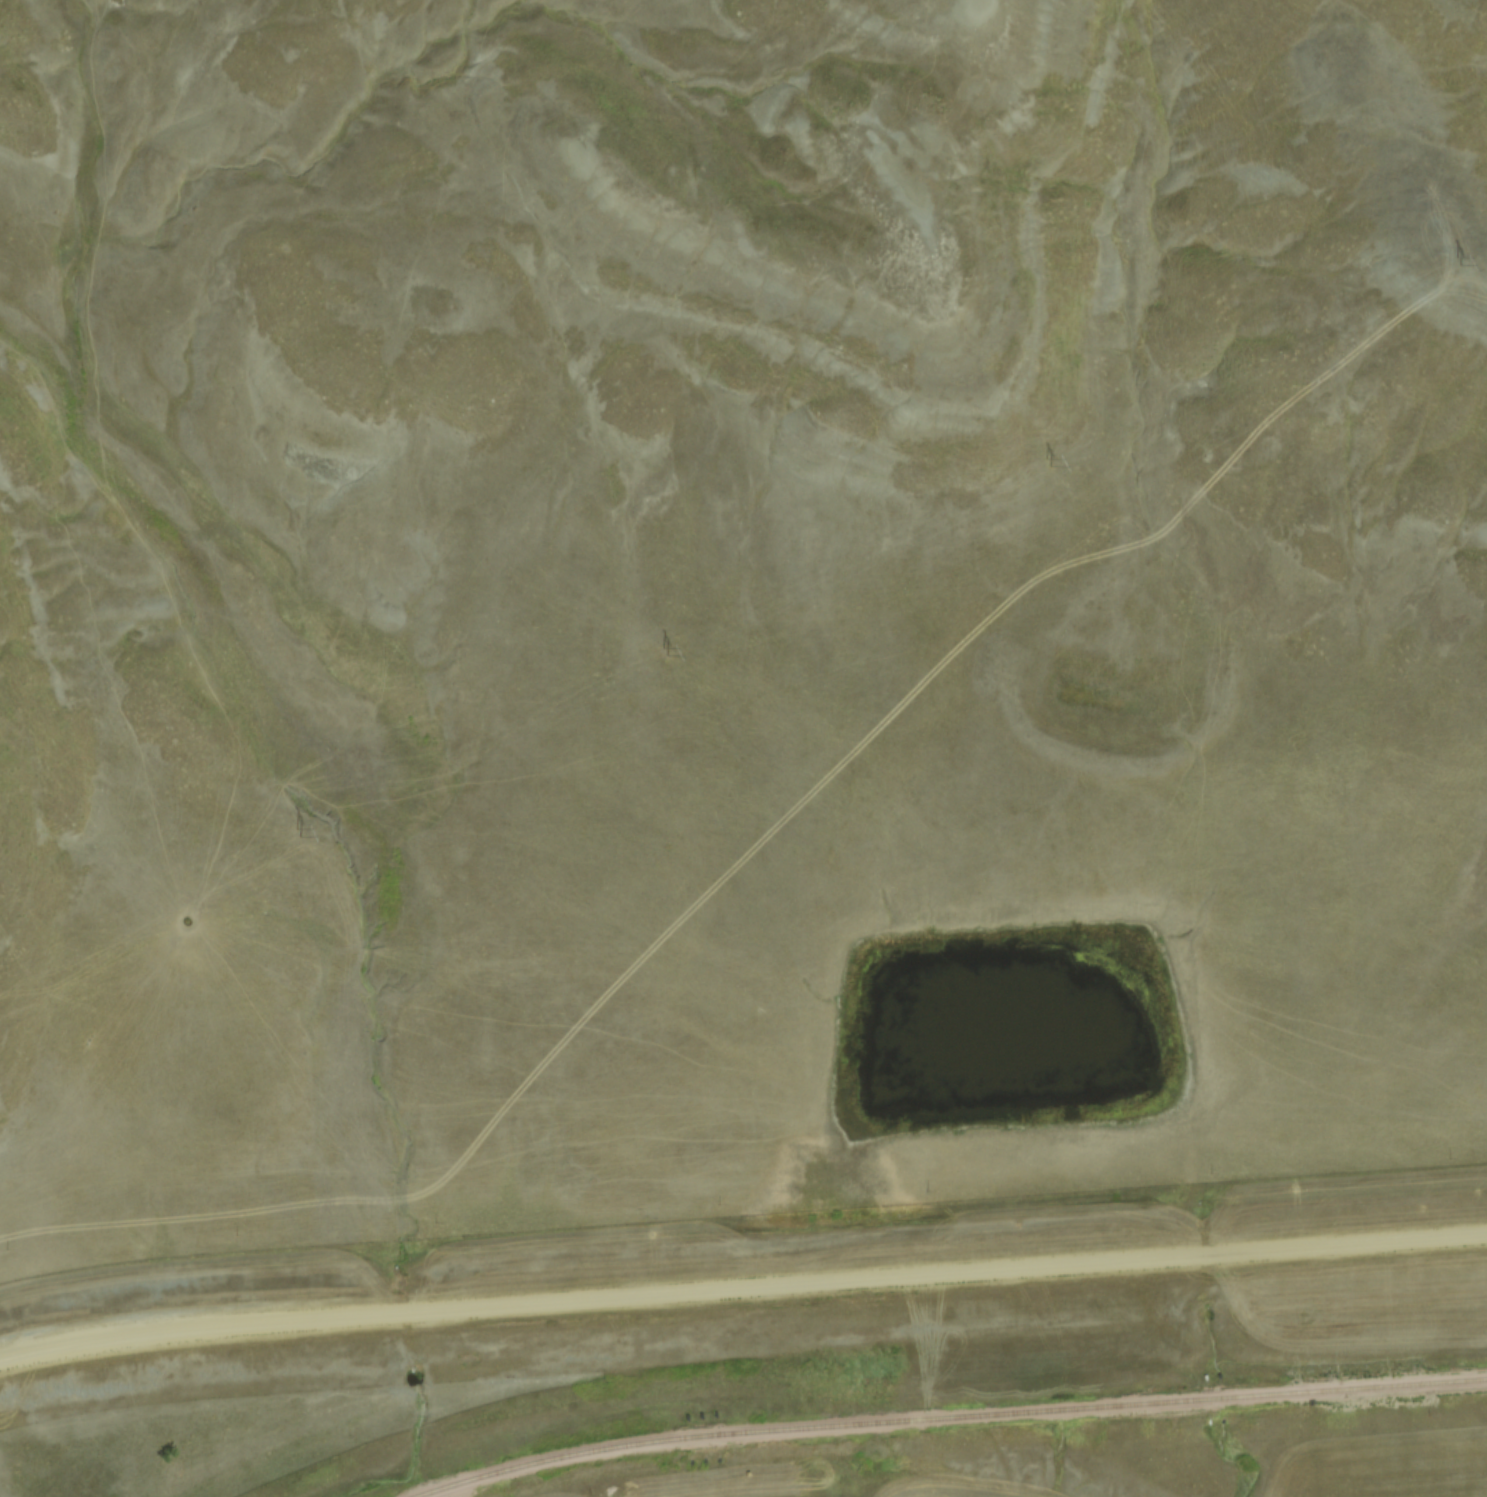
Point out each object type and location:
power tower: (1454, 261)
power tower: (1047, 461)
power tower: (662, 651)
power tower: (294, 833)
road: (742, 1287)
railway: (948, 1417)

